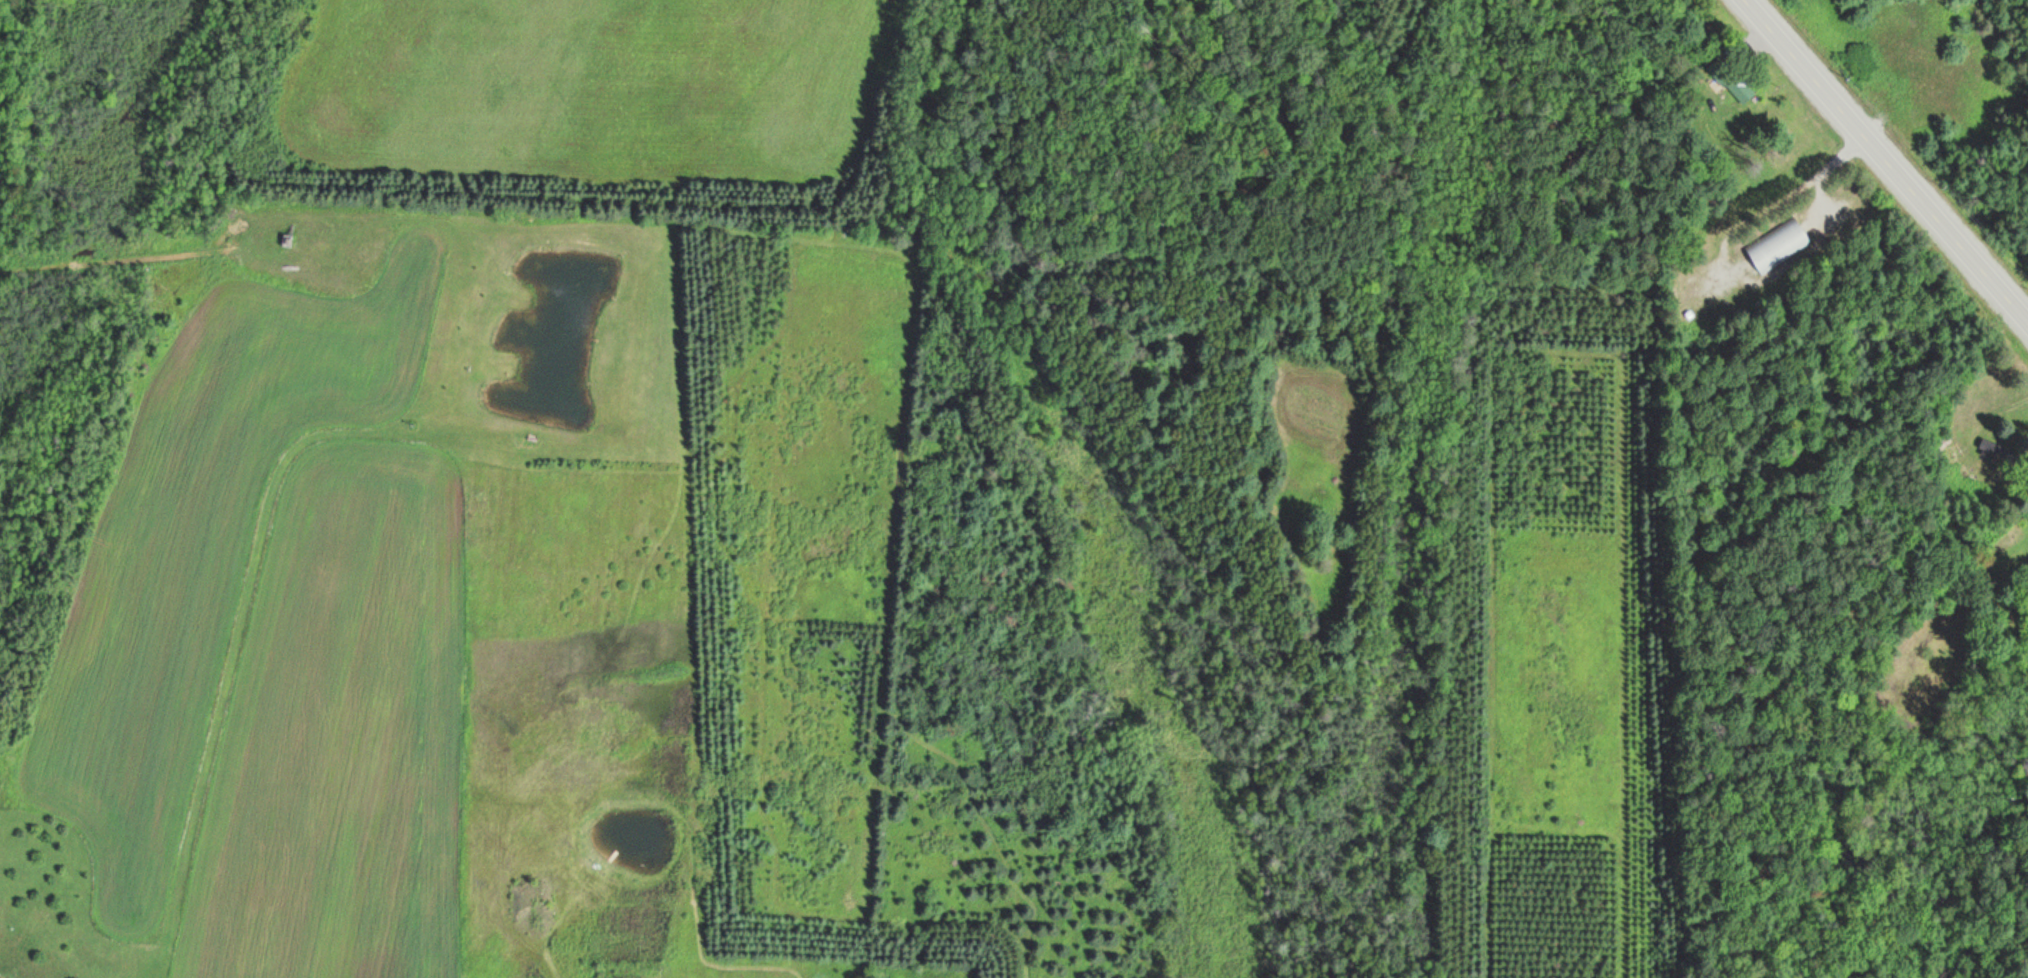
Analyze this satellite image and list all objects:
road: (1886, 161)

